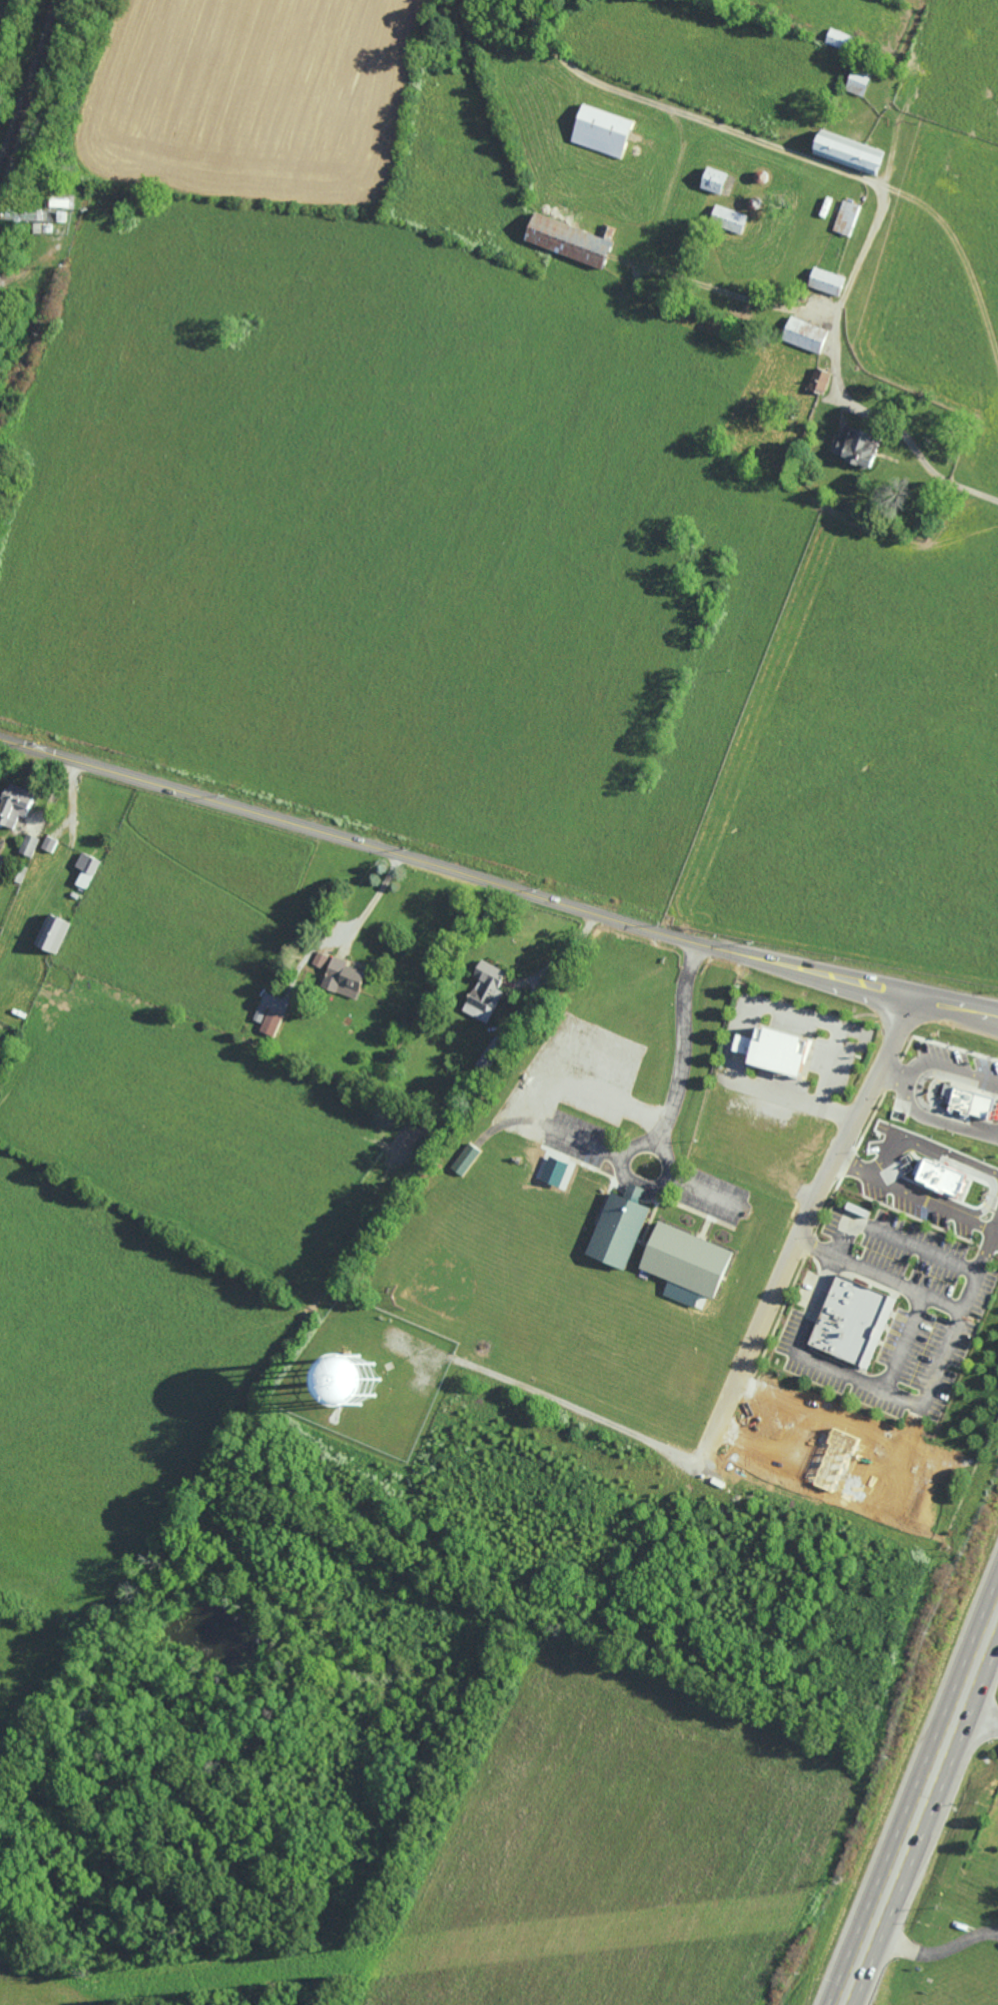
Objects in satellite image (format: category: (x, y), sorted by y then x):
road: (564, 58)
building: (859, 81)
railway: (31, 87)
building: (603, 130)
building: (849, 152)
building: (714, 180)
building: (847, 217)
building: (729, 218)
building: (571, 239)
road: (862, 247)
road: (964, 255)
building: (827, 281)
road: (735, 294)
building: (806, 334)
building: (820, 380)
building: (858, 445)
building: (15, 804)
building: (49, 843)
building: (29, 844)
building: (87, 869)
road: (496, 885)
road: (374, 902)
building: (53, 932)
road: (563, 954)
building: (320, 959)
building: (344, 978)
building: (486, 991)
road: (745, 1012)
building: (779, 1049)
road: (888, 1075)
road: (903, 1087)
road: (672, 1093)
building: (968, 1100)
road: (997, 1134)
road: (925, 1147)
building: (465, 1159)
road: (848, 1164)
road: (925, 1204)
road: (802, 1225)
building: (621, 1227)
road: (843, 1233)
road: (985, 1248)
building: (689, 1259)
building: (854, 1321)
road: (902, 1344)
building: (357, 1380)
water tower: (357, 1387)
road: (576, 1406)
road: (799, 1432)
road: (979, 1714)
road: (920, 1807)
road: (934, 1950)

